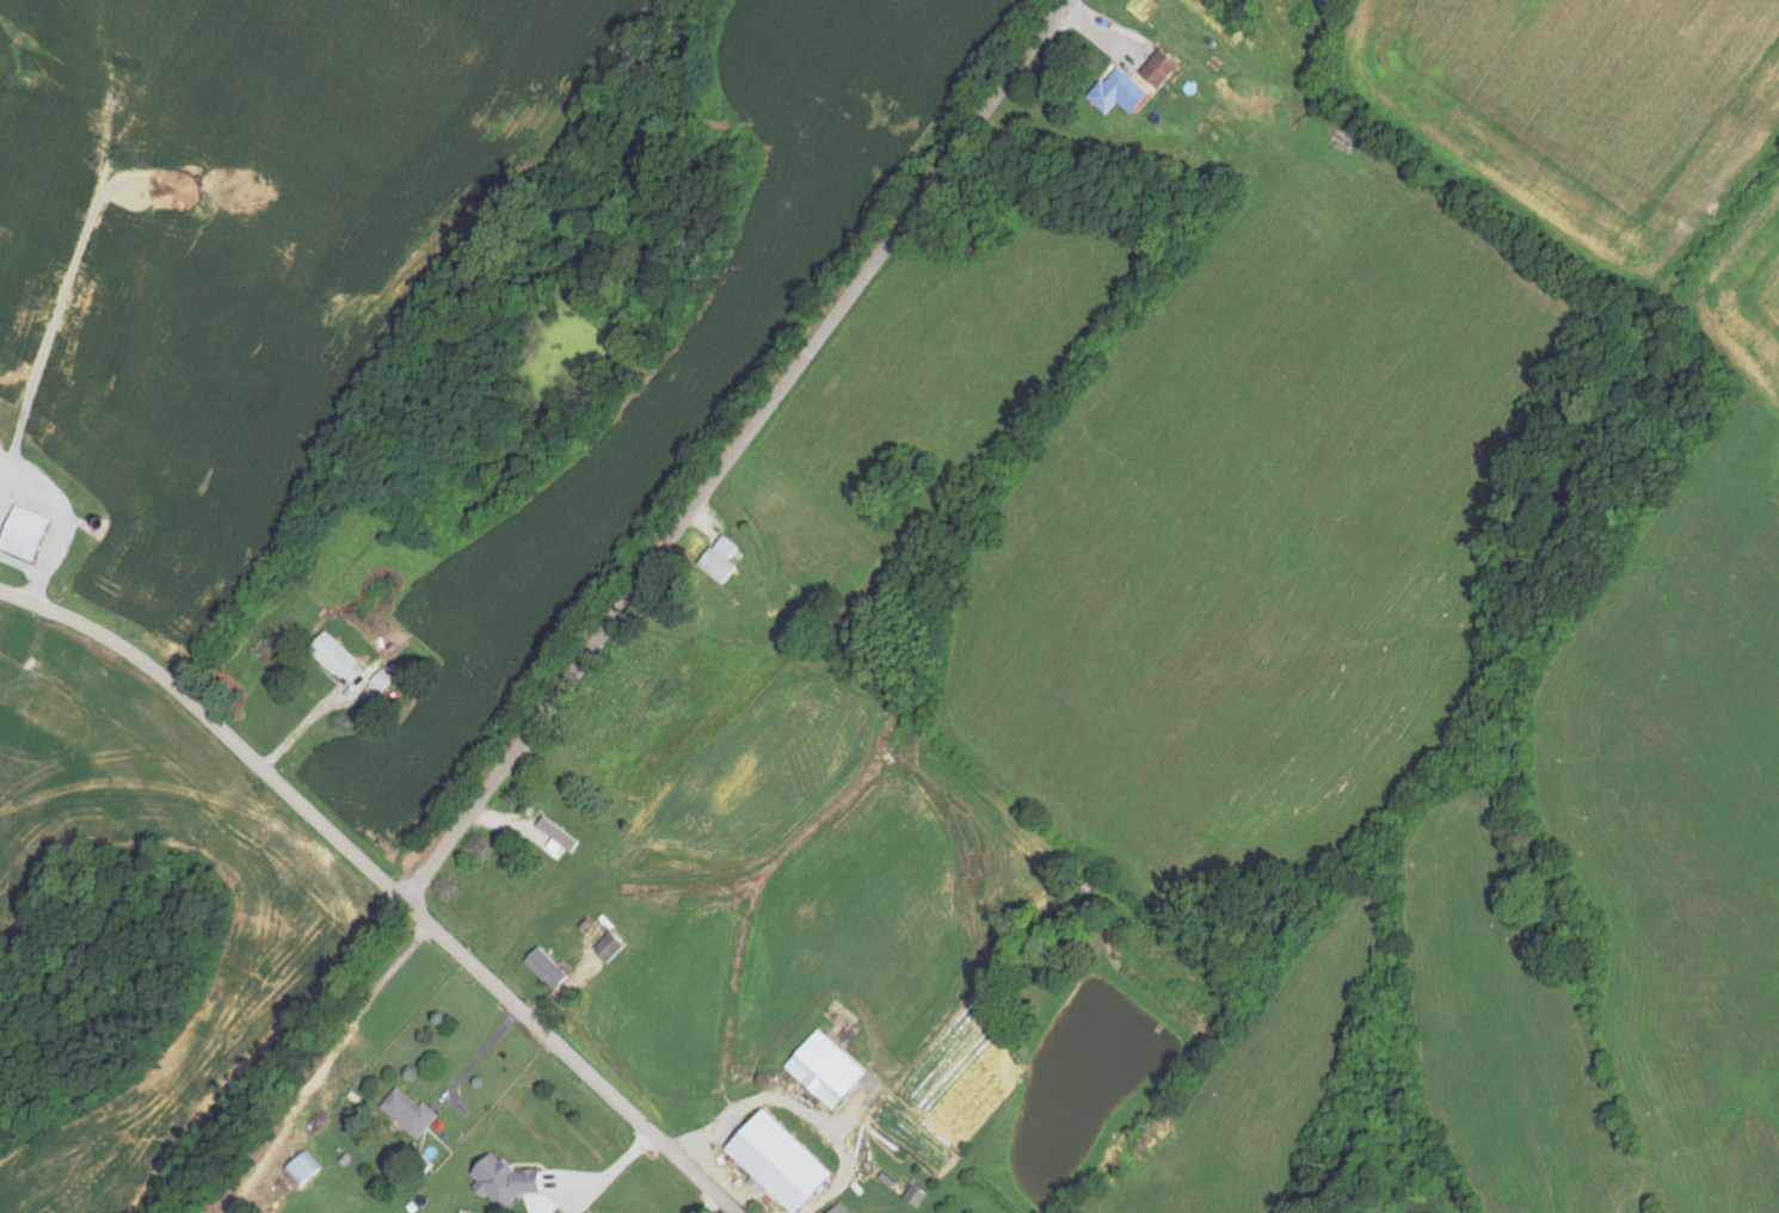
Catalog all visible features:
building: (1163, 70)
building: (1122, 93)
road: (739, 451)
building: (27, 534)
building: (725, 559)
road: (33, 569)
building: (340, 658)
road: (307, 726)
building: (561, 835)
road: (382, 881)
building: (613, 947)
building: (549, 968)
road: (347, 1037)
road: (484, 1055)
building: (829, 1070)
building: (413, 1113)
building: (783, 1162)
building: (506, 1182)
building: (543, 1205)
building: (844, 1209)

